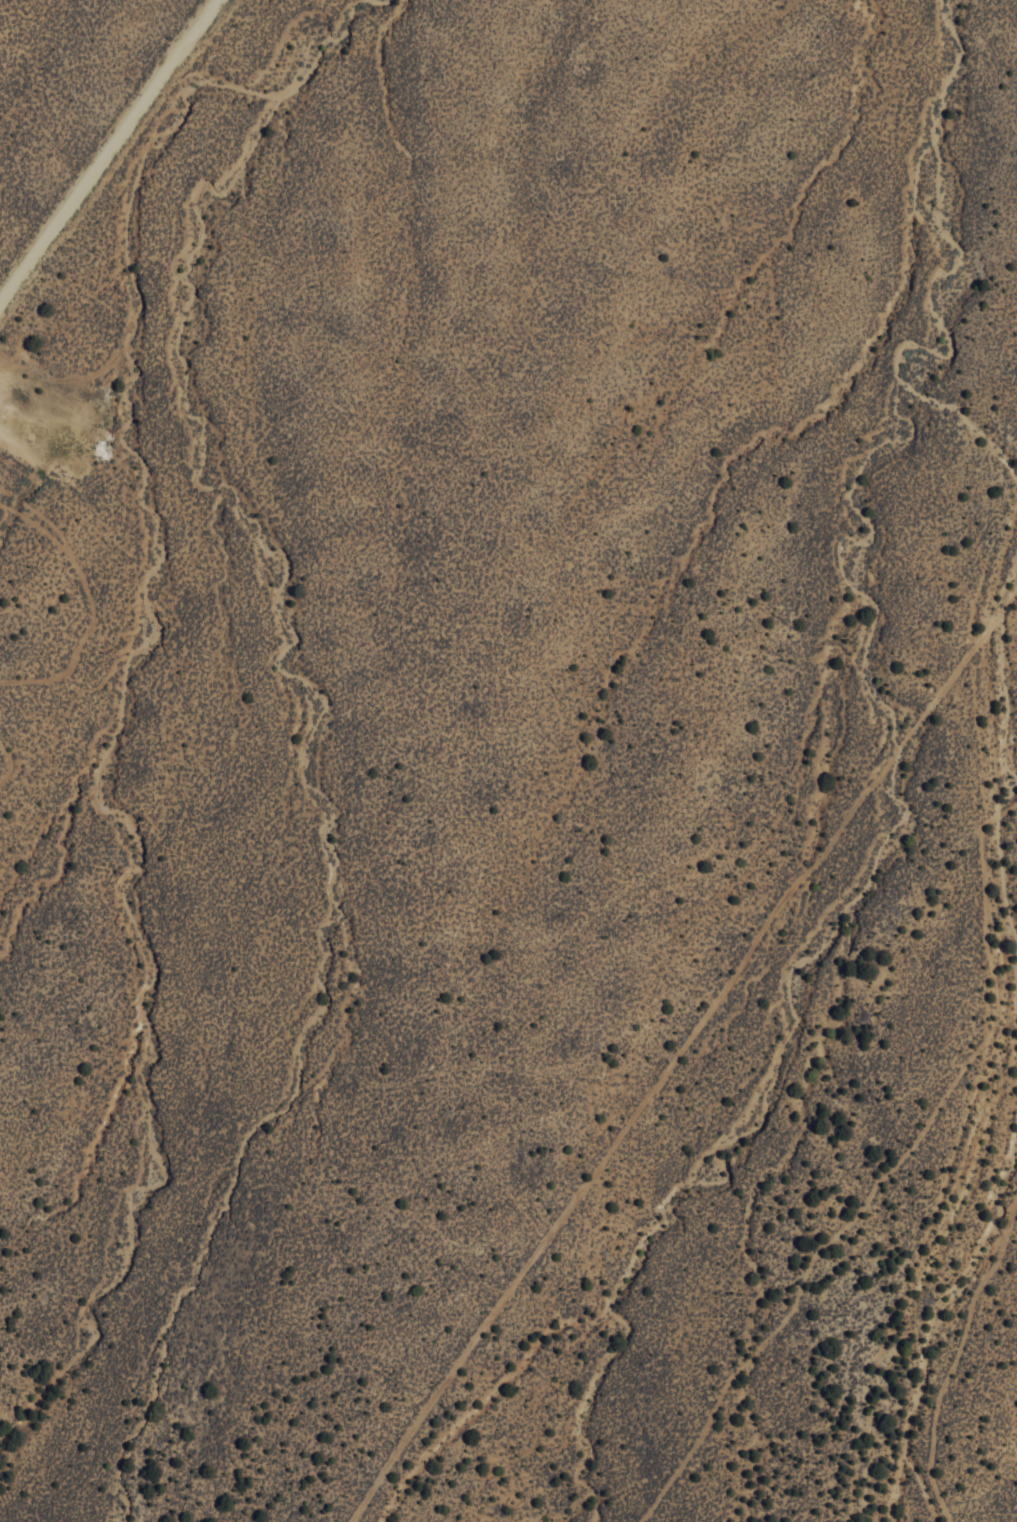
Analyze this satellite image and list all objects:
road: (110, 152)
road: (925, 1057)
road: (836, 1394)

